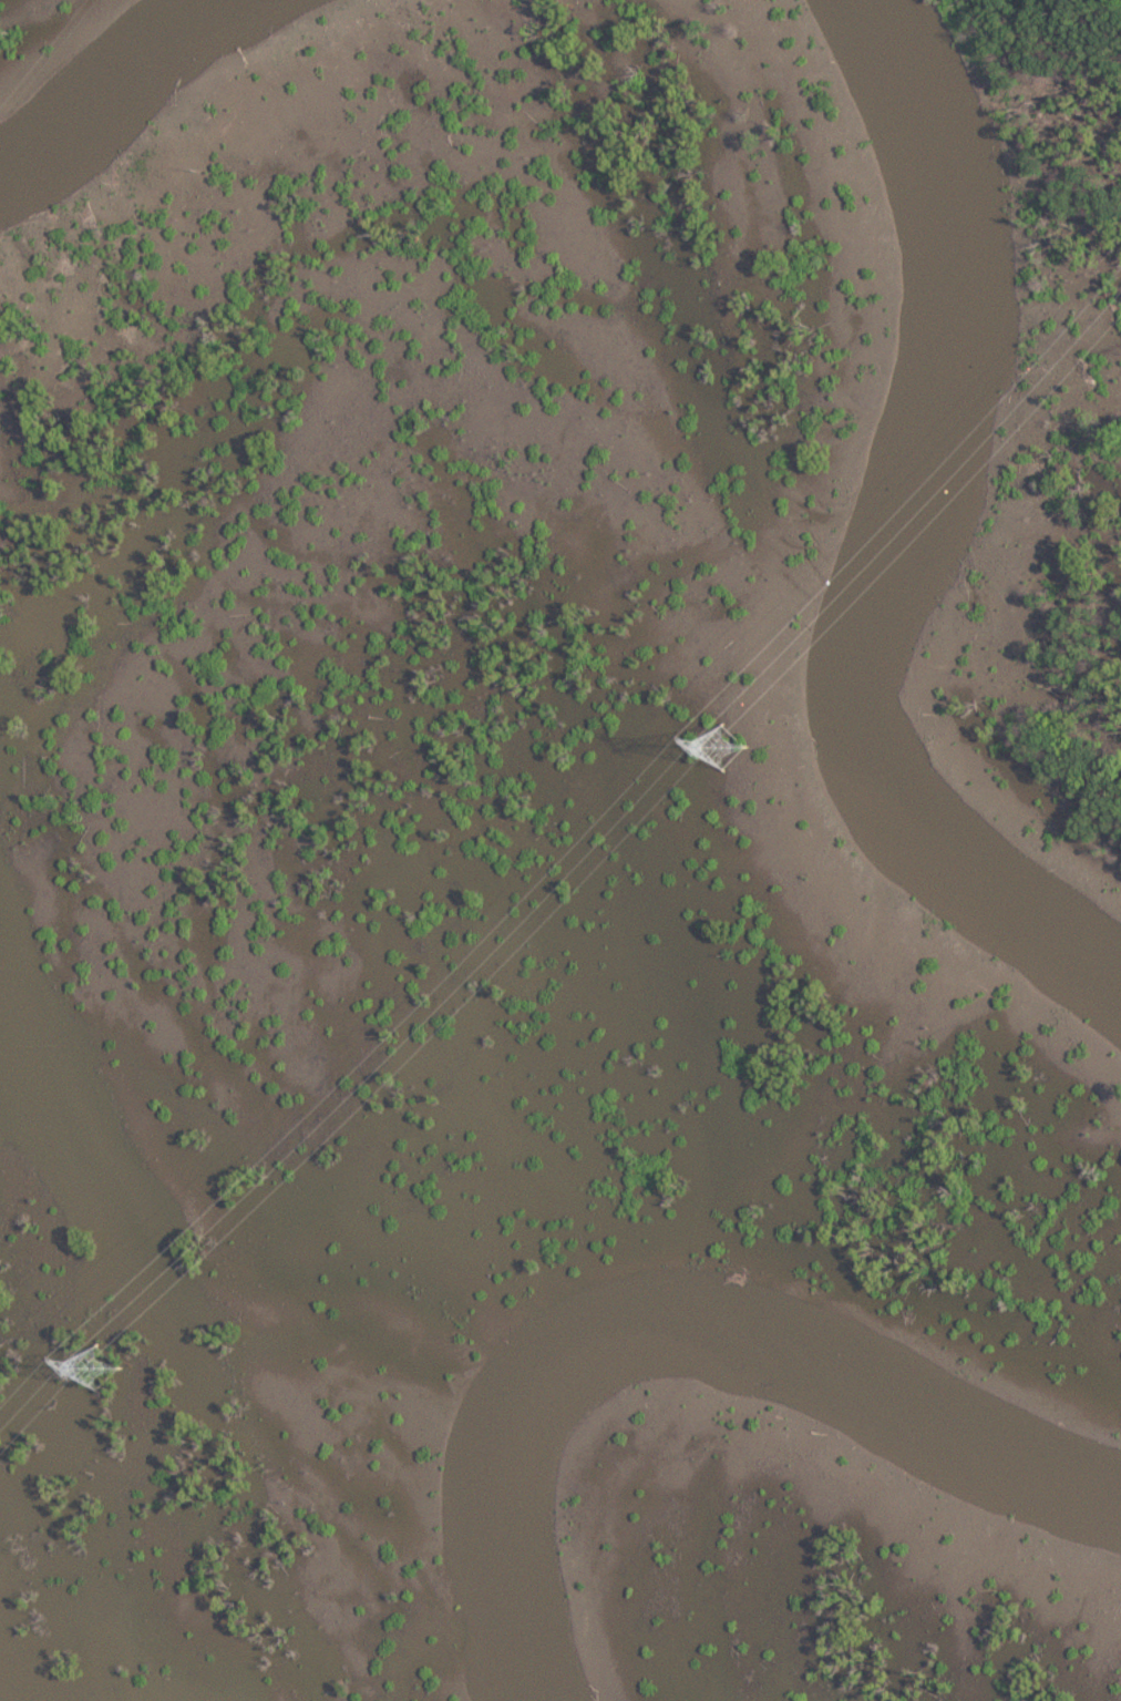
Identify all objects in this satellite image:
river: (111, 78)
river: (888, 540)
power tower: (728, 745)
river: (680, 1339)
power tower: (101, 1369)

